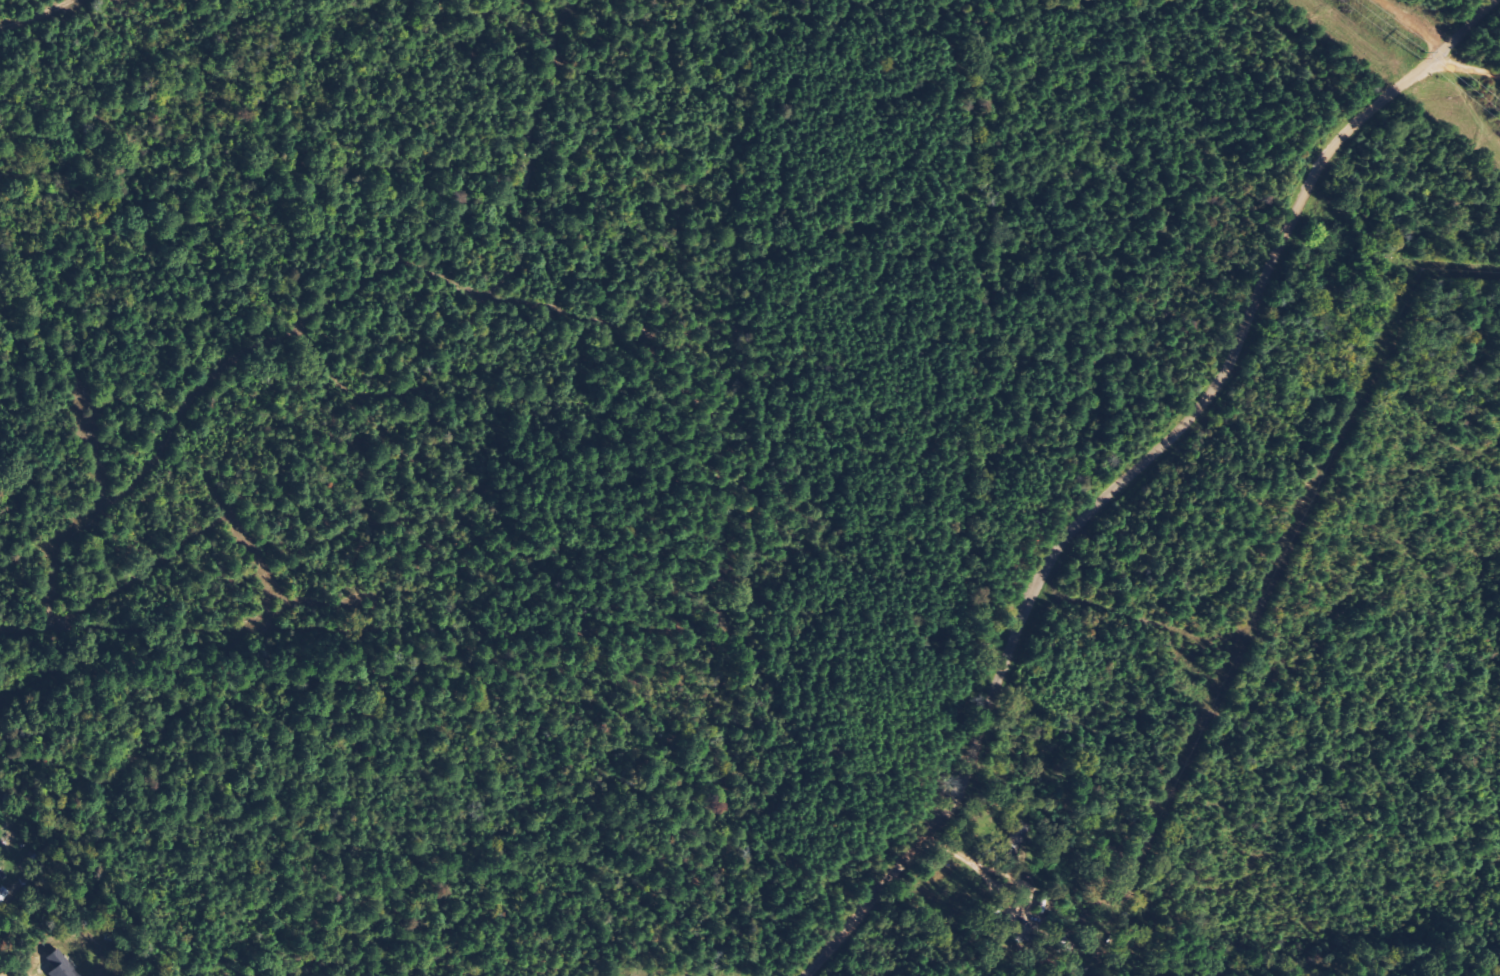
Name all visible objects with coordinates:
power tower: (1426, 56)
road: (1468, 68)
road: (1159, 448)
building: (3, 895)
road: (830, 949)
building: (59, 965)

